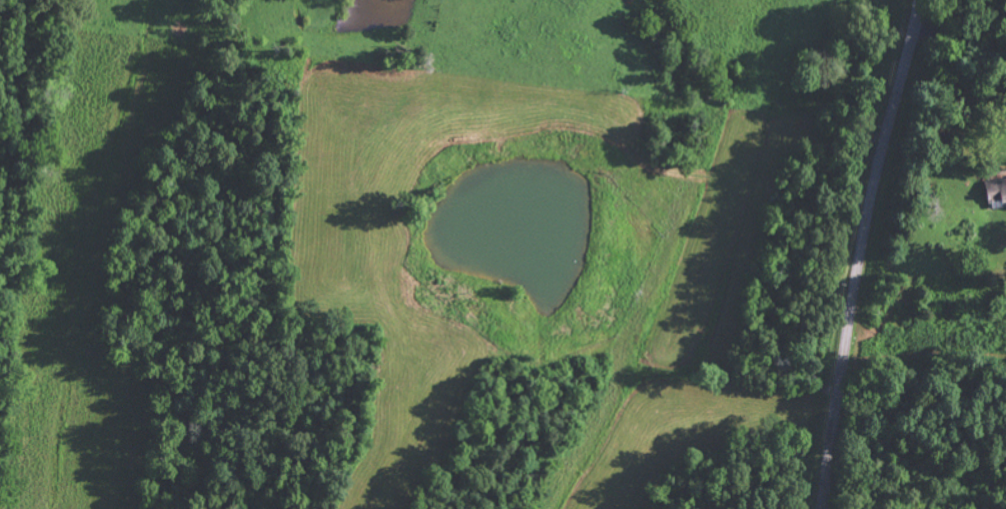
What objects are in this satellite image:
building: (995, 189)
road: (859, 252)

